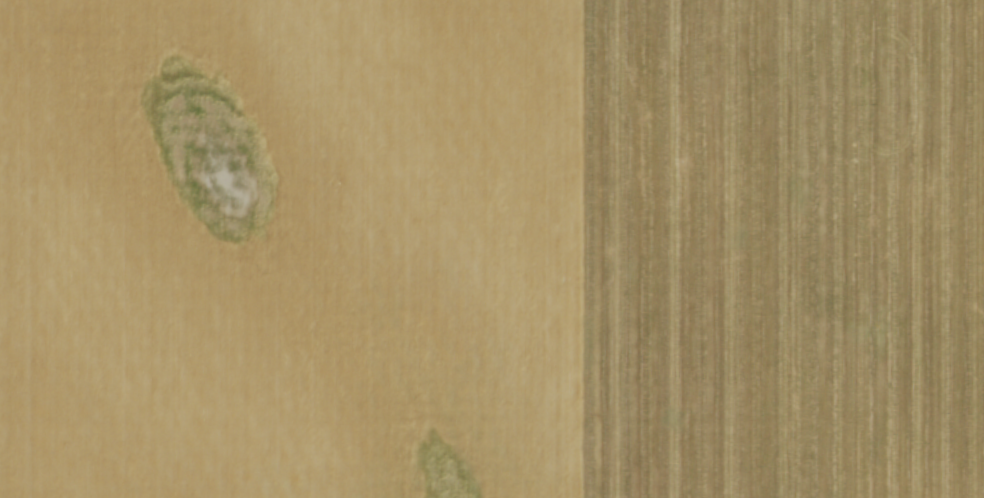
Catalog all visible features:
crop: (492, 249)

